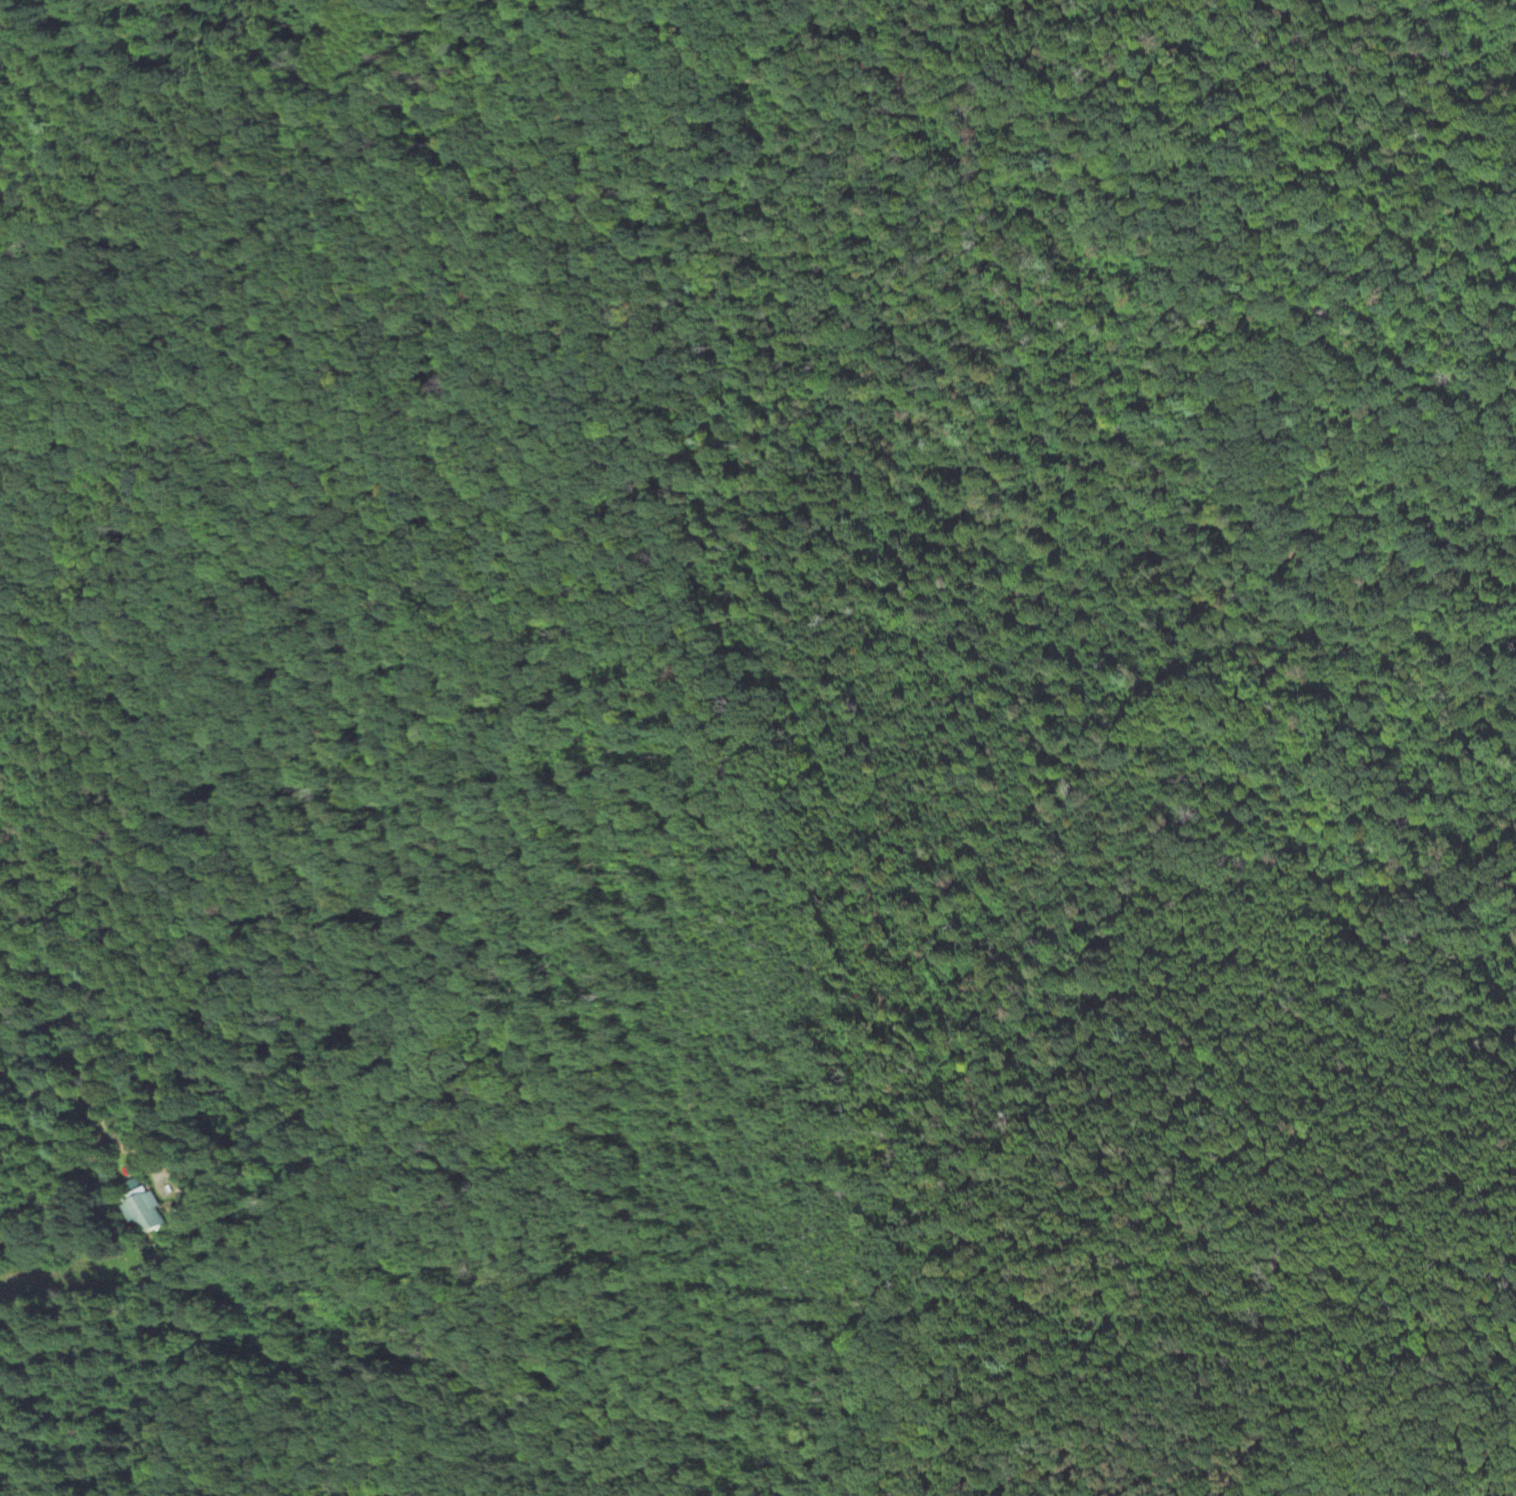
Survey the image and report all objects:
road: (81, 1042)
building: (147, 1213)

